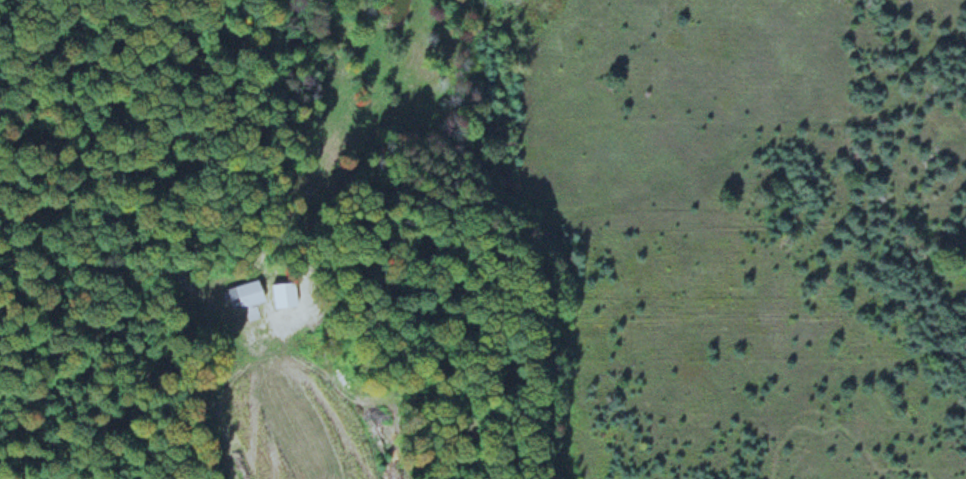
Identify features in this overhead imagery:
building: (246, 290)

